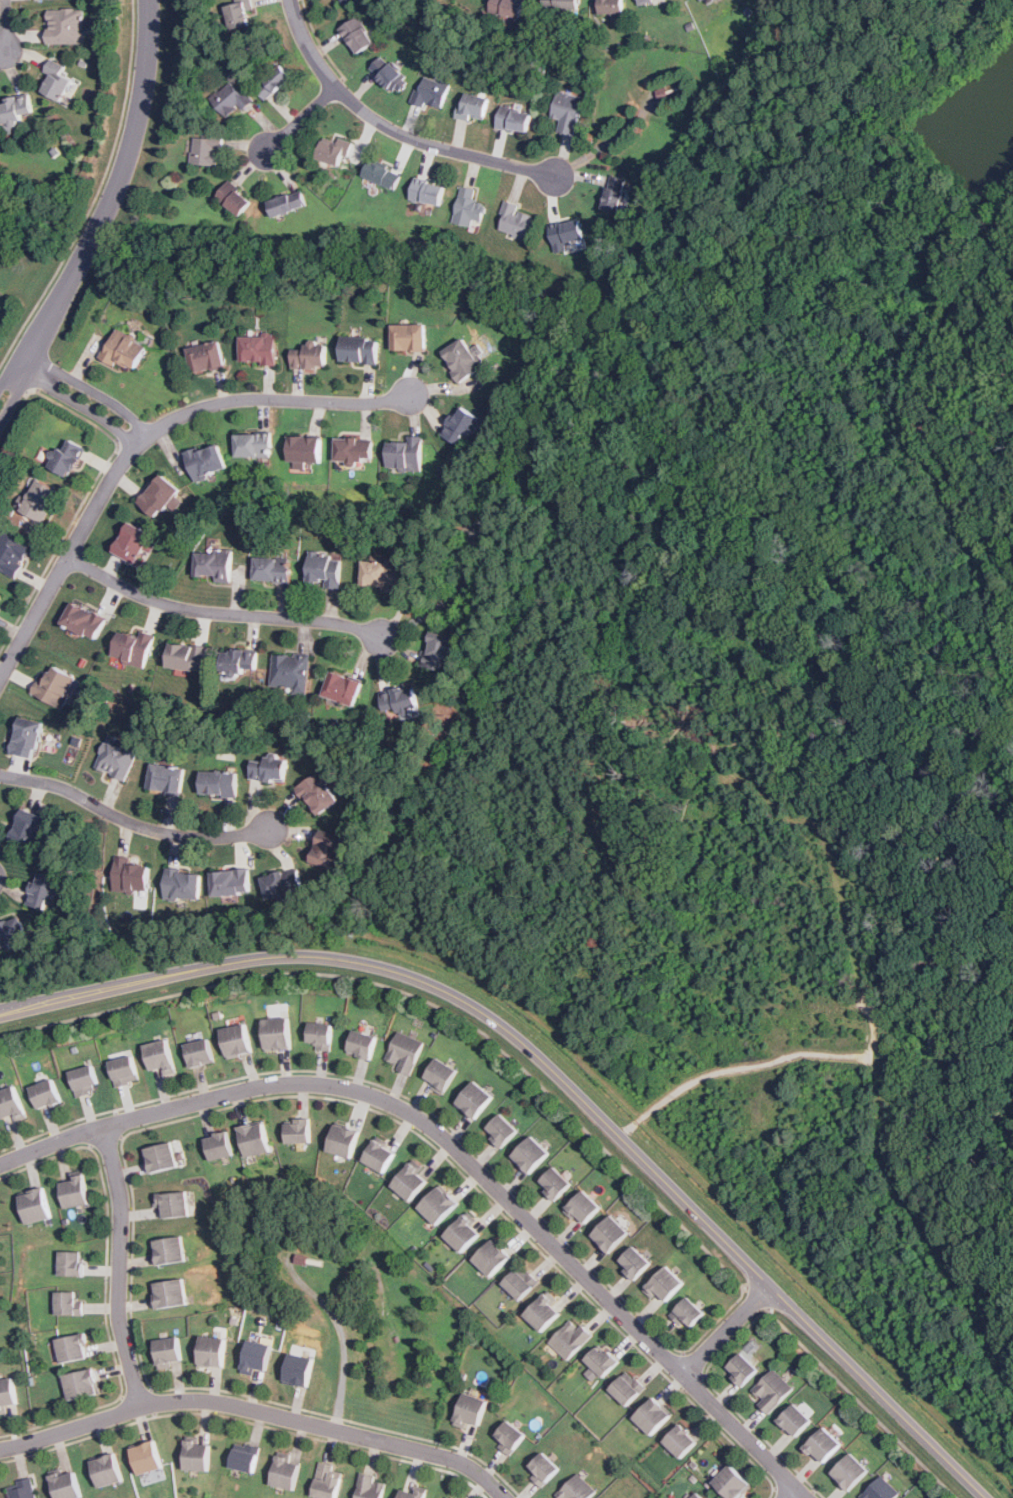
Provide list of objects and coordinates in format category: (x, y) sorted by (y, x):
building: (348, 1)
building: (643, 1)
building: (705, 1)
building: (562, 4)
building: (610, 6)
building: (509, 7)
building: (239, 14)
road: (6, 25)
building: (66, 26)
building: (358, 36)
building: (390, 75)
building: (56, 79)
building: (273, 82)
building: (431, 92)
building: (232, 100)
building: (473, 107)
building: (14, 109)
building: (567, 111)
road: (302, 120)
building: (514, 120)
road: (393, 129)
building: (206, 150)
building: (333, 153)
road: (127, 160)
building: (382, 174)
building: (427, 192)
road: (98, 194)
building: (614, 194)
building: (234, 199)
building: (286, 204)
building: (469, 208)
road: (961, 213)
building: (514, 220)
building: (567, 233)
building: (410, 337)
road: (25, 346)
building: (359, 349)
building: (125, 350)
building: (258, 350)
building: (206, 356)
building: (309, 356)
building: (463, 359)
road: (32, 369)
road: (980, 375)
road: (89, 389)
road: (268, 398)
road: (76, 404)
building: (459, 425)
building: (253, 445)
building: (305, 449)
building: (354, 450)
building: (405, 454)
building: (67, 458)
building: (207, 461)
building: (159, 496)
building: (40, 500)
building: (134, 543)
building: (12, 554)
road: (67, 560)
building: (214, 565)
building: (272, 569)
building: (325, 569)
building: (379, 574)
building: (0, 594)
building: (0, 596)
road: (222, 613)
building: (83, 621)
building: (133, 649)
building: (438, 652)
building: (187, 657)
building: (240, 662)
building: (292, 672)
building: (55, 687)
building: (343, 689)
building: (399, 699)
building: (26, 739)
building: (117, 757)
building: (268, 769)
building: (167, 779)
building: (220, 784)
building: (318, 794)
road: (132, 822)
building: (27, 831)
building: (327, 851)
road: (657, 863)
building: (131, 875)
building: (231, 882)
building: (282, 883)
building: (183, 884)
building: (43, 891)
building: (11, 932)
road: (422, 998)
building: (277, 1034)
building: (320, 1035)
building: (195, 1037)
building: (237, 1041)
building: (362, 1045)
building: (405, 1052)
building: (200, 1053)
building: (161, 1057)
road: (757, 1065)
building: (124, 1071)
building: (440, 1075)
road: (560, 1075)
building: (84, 1080)
building: (45, 1093)
building: (474, 1099)
building: (11, 1104)
road: (426, 1108)
road: (201, 1113)
road: (630, 1127)
building: (501, 1129)
building: (299, 1130)
road: (116, 1136)
building: (255, 1139)
building: (344, 1141)
building: (218, 1145)
road: (458, 1152)
building: (531, 1154)
building: (379, 1156)
building: (159, 1157)
building: (412, 1180)
building: (555, 1183)
road: (1003, 1184)
building: (74, 1192)
building: (169, 1204)
building: (34, 1205)
building: (439, 1205)
building: (584, 1207)
building: (464, 1232)
building: (611, 1234)
building: (168, 1250)
building: (492, 1257)
road: (372, 1260)
building: (635, 1262)
building: (71, 1264)
road: (118, 1267)
building: (520, 1282)
building: (665, 1284)
road: (105, 1286)
building: (169, 1293)
road: (755, 1298)
building: (68, 1304)
building: (545, 1310)
building: (688, 1313)
road: (727, 1330)
road: (341, 1336)
building: (571, 1338)
building: (73, 1348)
building: (211, 1351)
building: (167, 1352)
building: (256, 1356)
building: (602, 1360)
road: (689, 1364)
building: (742, 1368)
building: (298, 1369)
building: (81, 1384)
building: (627, 1387)
road: (148, 1390)
building: (773, 1390)
building: (6, 1394)
road: (731, 1405)
road: (259, 1410)
building: (471, 1410)
building: (653, 1416)
building: (796, 1420)
road: (247, 1422)
building: (510, 1437)
building: (681, 1441)
building: (824, 1445)
building: (197, 1456)
building: (145, 1457)
building: (244, 1458)
building: (543, 1469)
building: (106, 1470)
building: (850, 1471)
building: (285, 1472)
building: (327, 1481)
building: (731, 1483)
building: (65, 1485)
building: (371, 1486)
building: (22, 1489)
building: (577, 1489)
building: (881, 1489)
building: (411, 1493)
road: (793, 1493)
road: (810, 1493)
building: (698, 1495)
road: (777, 1495)
building: (447, 1497)

